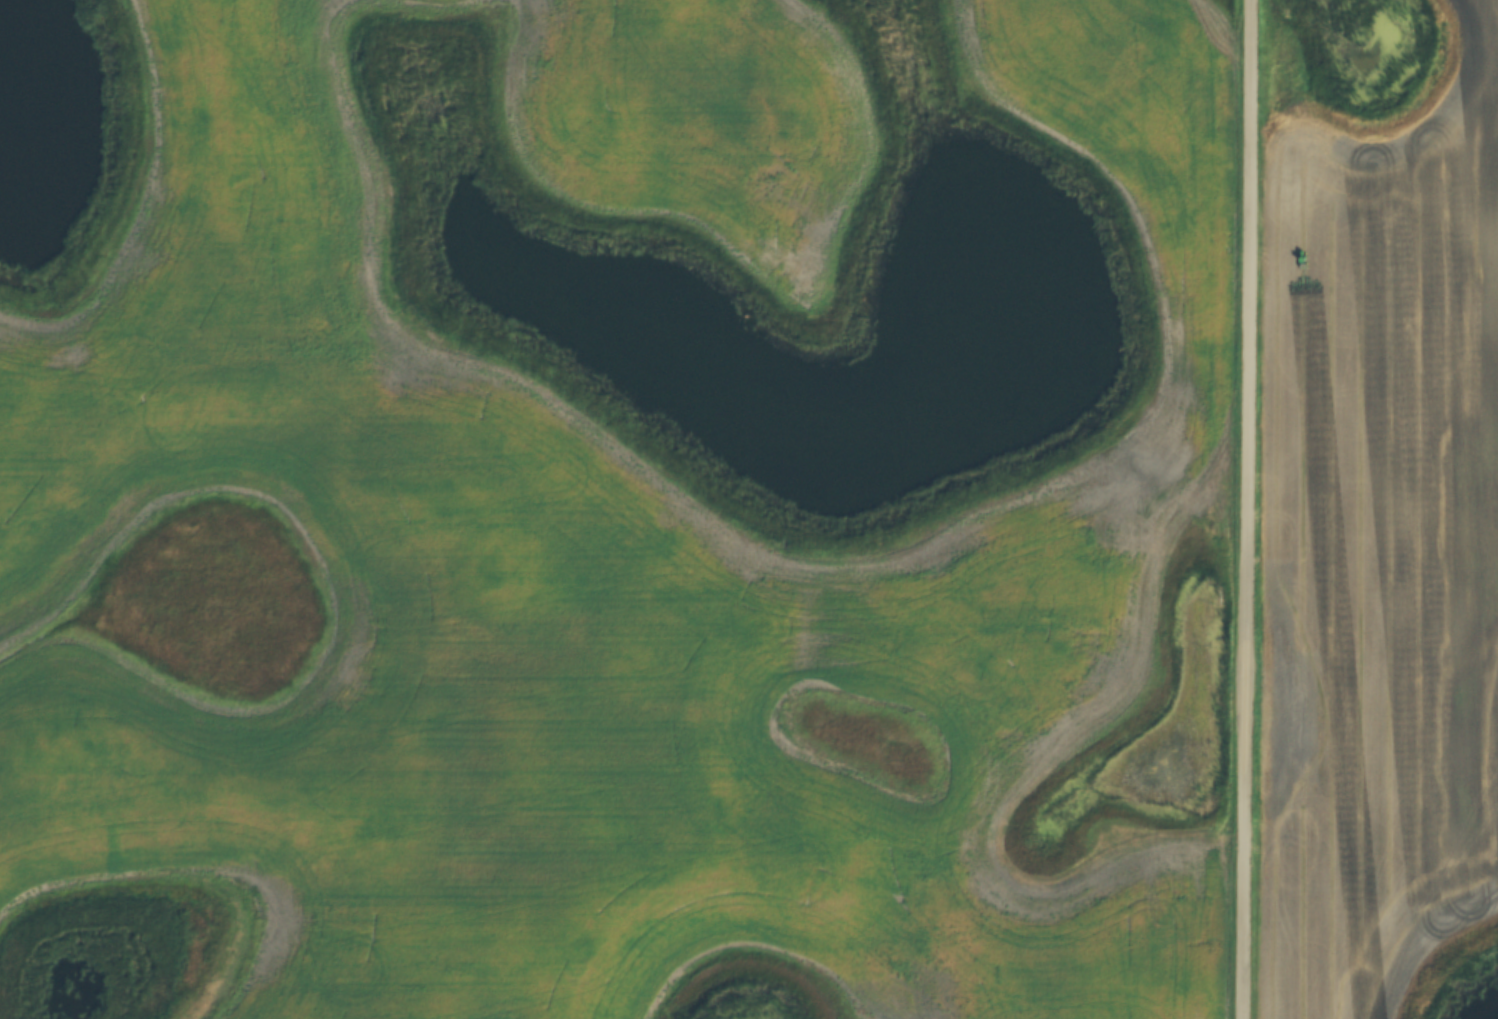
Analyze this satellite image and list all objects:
road: (1255, 509)

